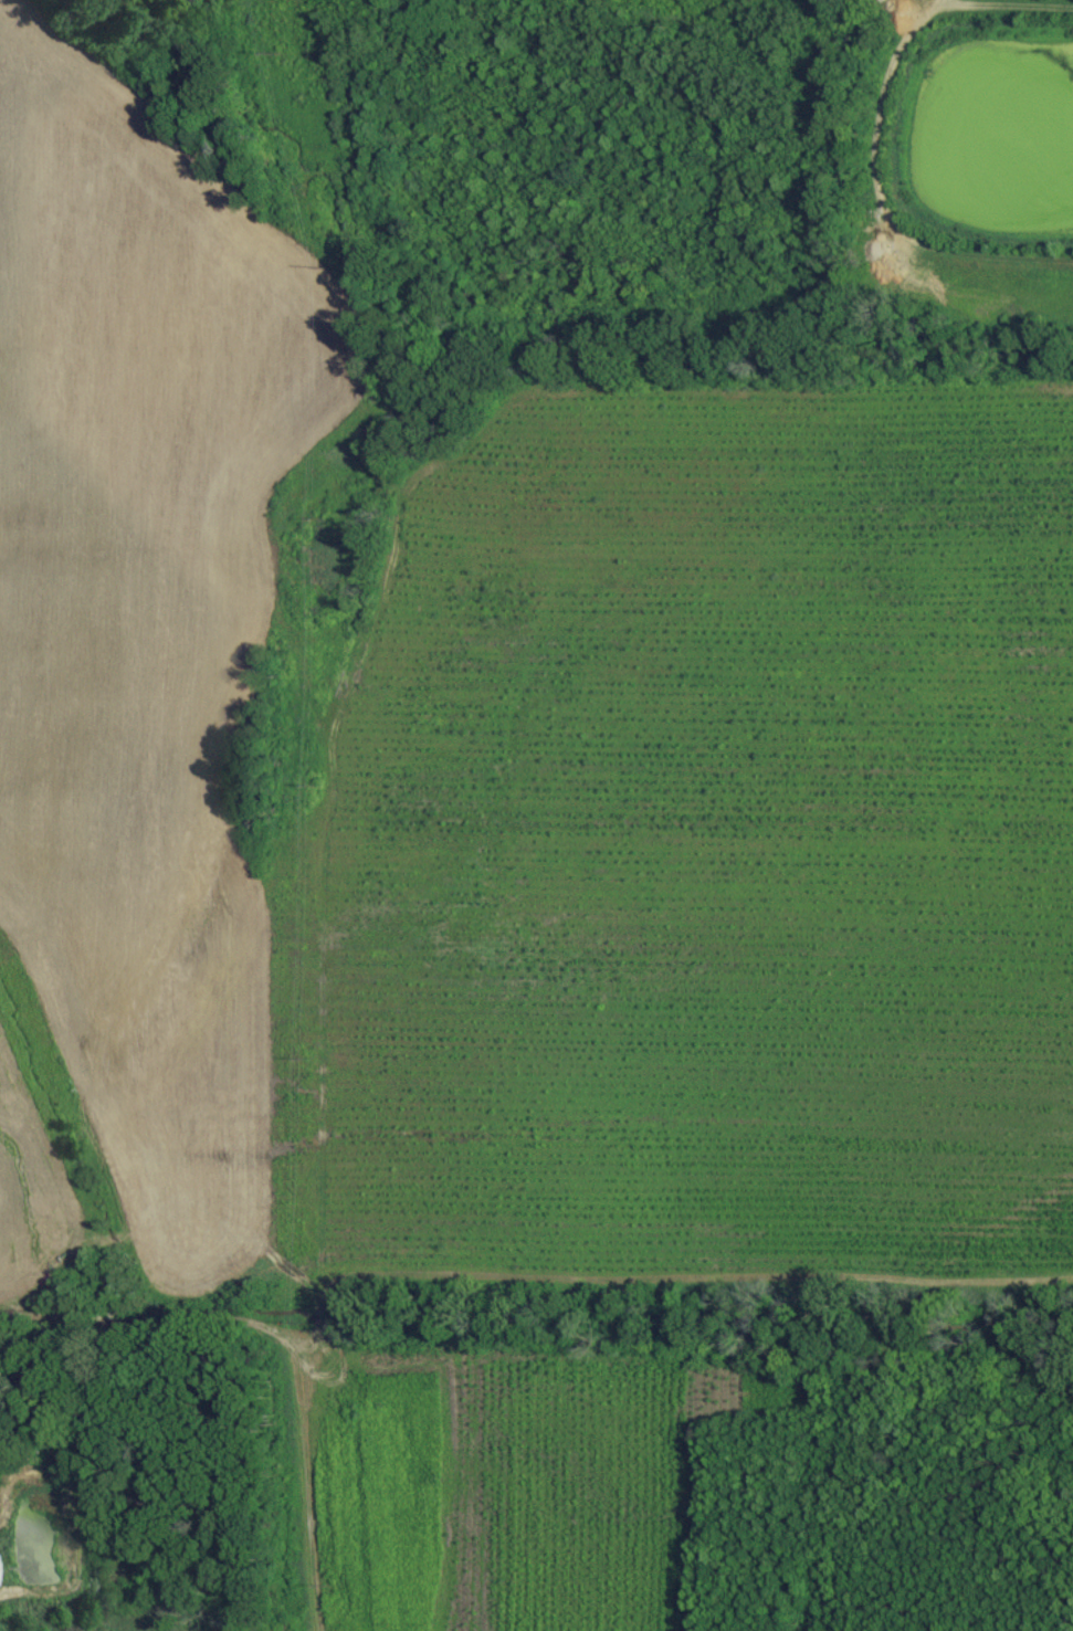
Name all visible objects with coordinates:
road: (55, 1309)

